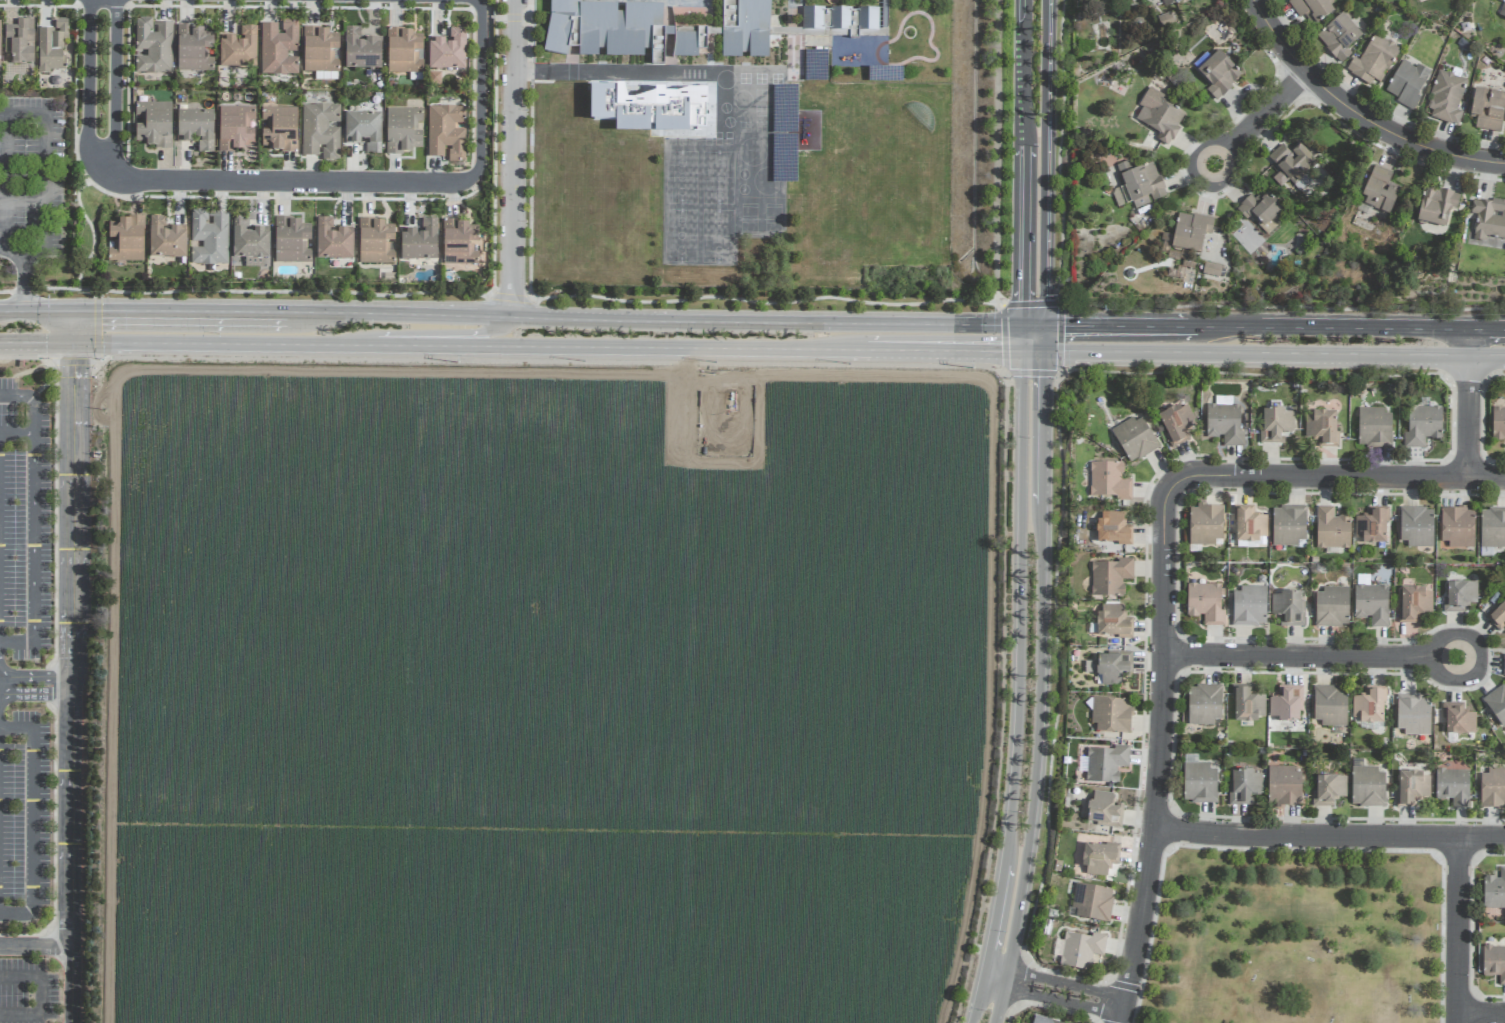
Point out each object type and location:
building: (1169, 2)
building: (1311, 9)
building: (1502, 11)
building: (841, 19)
building: (745, 28)
building: (607, 29)
building: (1339, 37)
building: (19, 41)
building: (689, 41)
building: (153, 46)
building: (52, 47)
building: (193, 49)
building: (239, 49)
building: (279, 49)
building: (321, 50)
building: (361, 50)
building: (404, 51)
building: (448, 51)
building: (1373, 61)
building: (0, 62)
road: (590, 69)
building: (1216, 73)
building: (326, 76)
building: (1407, 84)
road: (101, 86)
road: (479, 91)
building: (1446, 98)
building: (1487, 109)
road: (1358, 114)
building: (1159, 116)
building: (151, 123)
building: (196, 128)
building: (235, 128)
building: (279, 129)
road: (1252, 129)
building: (364, 130)
building: (403, 130)
building: (320, 131)
building: (446, 132)
road: (1060, 151)
road: (998, 154)
road: (511, 158)
road: (1024, 162)
road: (1044, 162)
building: (1292, 162)
road: (44, 173)
parking lot: (29, 175)
road: (285, 182)
building: (1141, 183)
building: (1379, 191)
building: (1437, 206)
building: (1260, 209)
road: (4, 215)
building: (1488, 219)
building: (1190, 232)
building: (125, 237)
building: (209, 238)
building: (166, 239)
building: (291, 240)
building: (249, 241)
building: (333, 241)
building: (375, 242)
building: (419, 242)
building: (458, 243)
building: (1211, 269)
road: (499, 294)
road: (1282, 305)
traffic signals: (102, 309)
road: (36, 310)
road: (188, 310)
road: (673, 319)
road: (73, 326)
road: (1124, 326)
road: (1339, 329)
road: (1488, 331)
road: (415, 333)
road: (1042, 338)
traffic signals: (44, 342)
road: (183, 343)
road: (1470, 344)
road: (416, 346)
road: (665, 348)
road: (953, 351)
road: (1273, 354)
traffic signals: (73, 365)
road: (1059, 369)
road: (1255, 374)
road: (1499, 375)
road: (1470, 418)
building: (1224, 421)
building: (1498, 423)
building: (1275, 425)
building: (1422, 426)
building: (1321, 428)
building: (1374, 428)
road: (17, 431)
building: (1135, 439)
road: (1338, 478)
building: (1108, 480)
road: (34, 517)
building: (1205, 525)
building: (1288, 525)
building: (1371, 526)
building: (1416, 527)
building: (1492, 527)
building: (1457, 528)
building: (1113, 529)
building: (1331, 529)
building: (1110, 577)
building: (1459, 596)
building: (1205, 603)
building: (1414, 603)
building: (1371, 604)
building: (1249, 606)
building: (1288, 607)
building: (1332, 607)
building: (1498, 617)
building: (1112, 621)
road: (1326, 657)
road: (1040, 662)
building: (1503, 665)
building: (1113, 666)
building: (1090, 667)
road: (1017, 675)
road: (72, 682)
road: (36, 684)
crop: (535, 691)
building: (1204, 704)
building: (1286, 704)
building: (1497, 704)
building: (1247, 705)
building: (1330, 705)
building: (1368, 706)
building: (1111, 714)
building: (1413, 714)
building: (1457, 719)
road: (1161, 753)
building: (1106, 763)
building: (1198, 781)
building: (1244, 786)
building: (1283, 786)
building: (1452, 786)
building: (1367, 787)
building: (1412, 788)
building: (1492, 788)
building: (1328, 790)
building: (1104, 810)
road: (33, 817)
road: (1331, 838)
building: (1098, 859)
building: (1494, 891)
building: (1092, 902)
road: (1459, 931)
park: (1296, 938)
road: (35, 945)
building: (1081, 949)
building: (1494, 963)
road: (38, 978)
road: (1058, 983)
road: (998, 996)
road: (1054, 1001)
road: (20, 1015)
road: (1482, 1016)
building: (1042, 1020)

